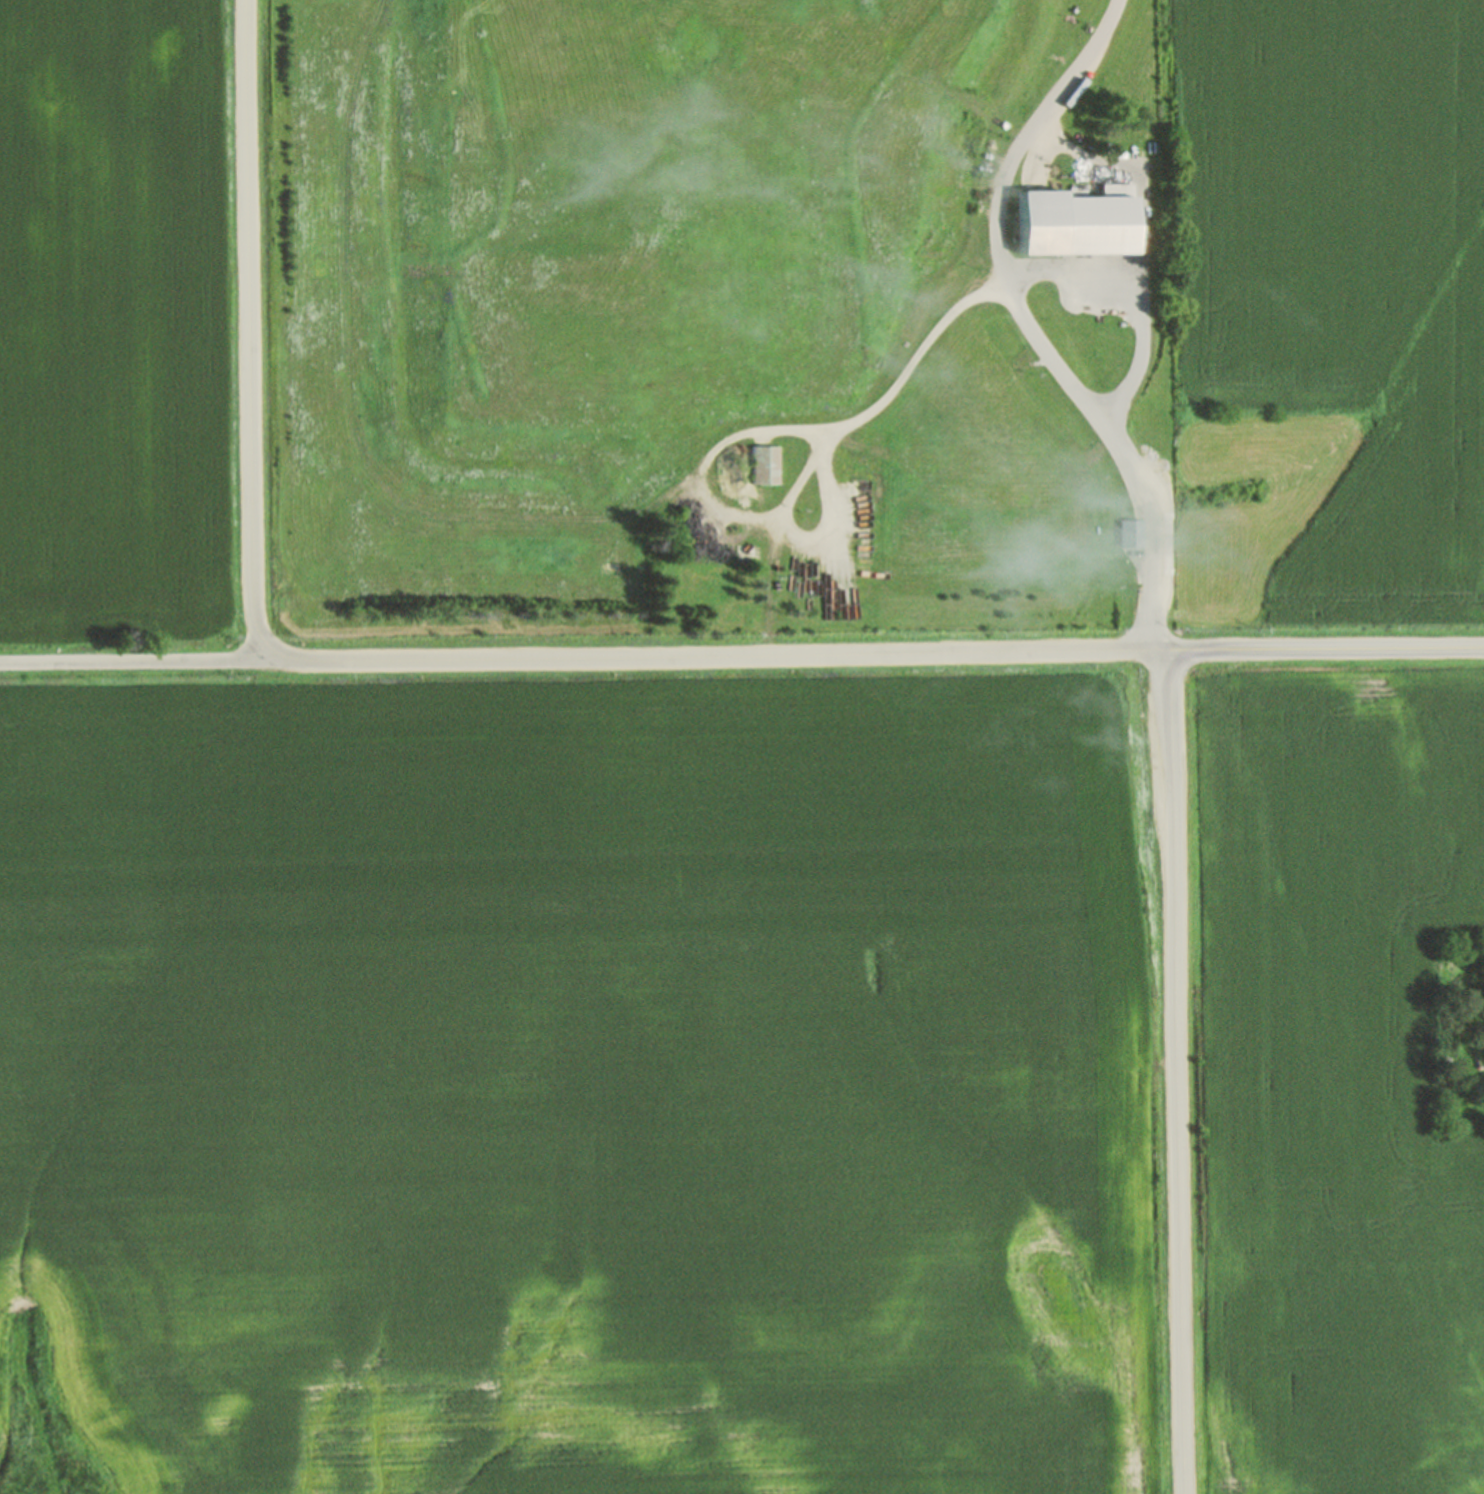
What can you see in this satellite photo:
road: (1139, 176)
building: (1077, 221)
road: (1134, 300)
landfill: (729, 317)
road: (1031, 321)
building: (765, 462)
building: (1131, 533)
road: (1326, 648)
road: (140, 660)
road: (391, 660)
road: (1181, 1071)

